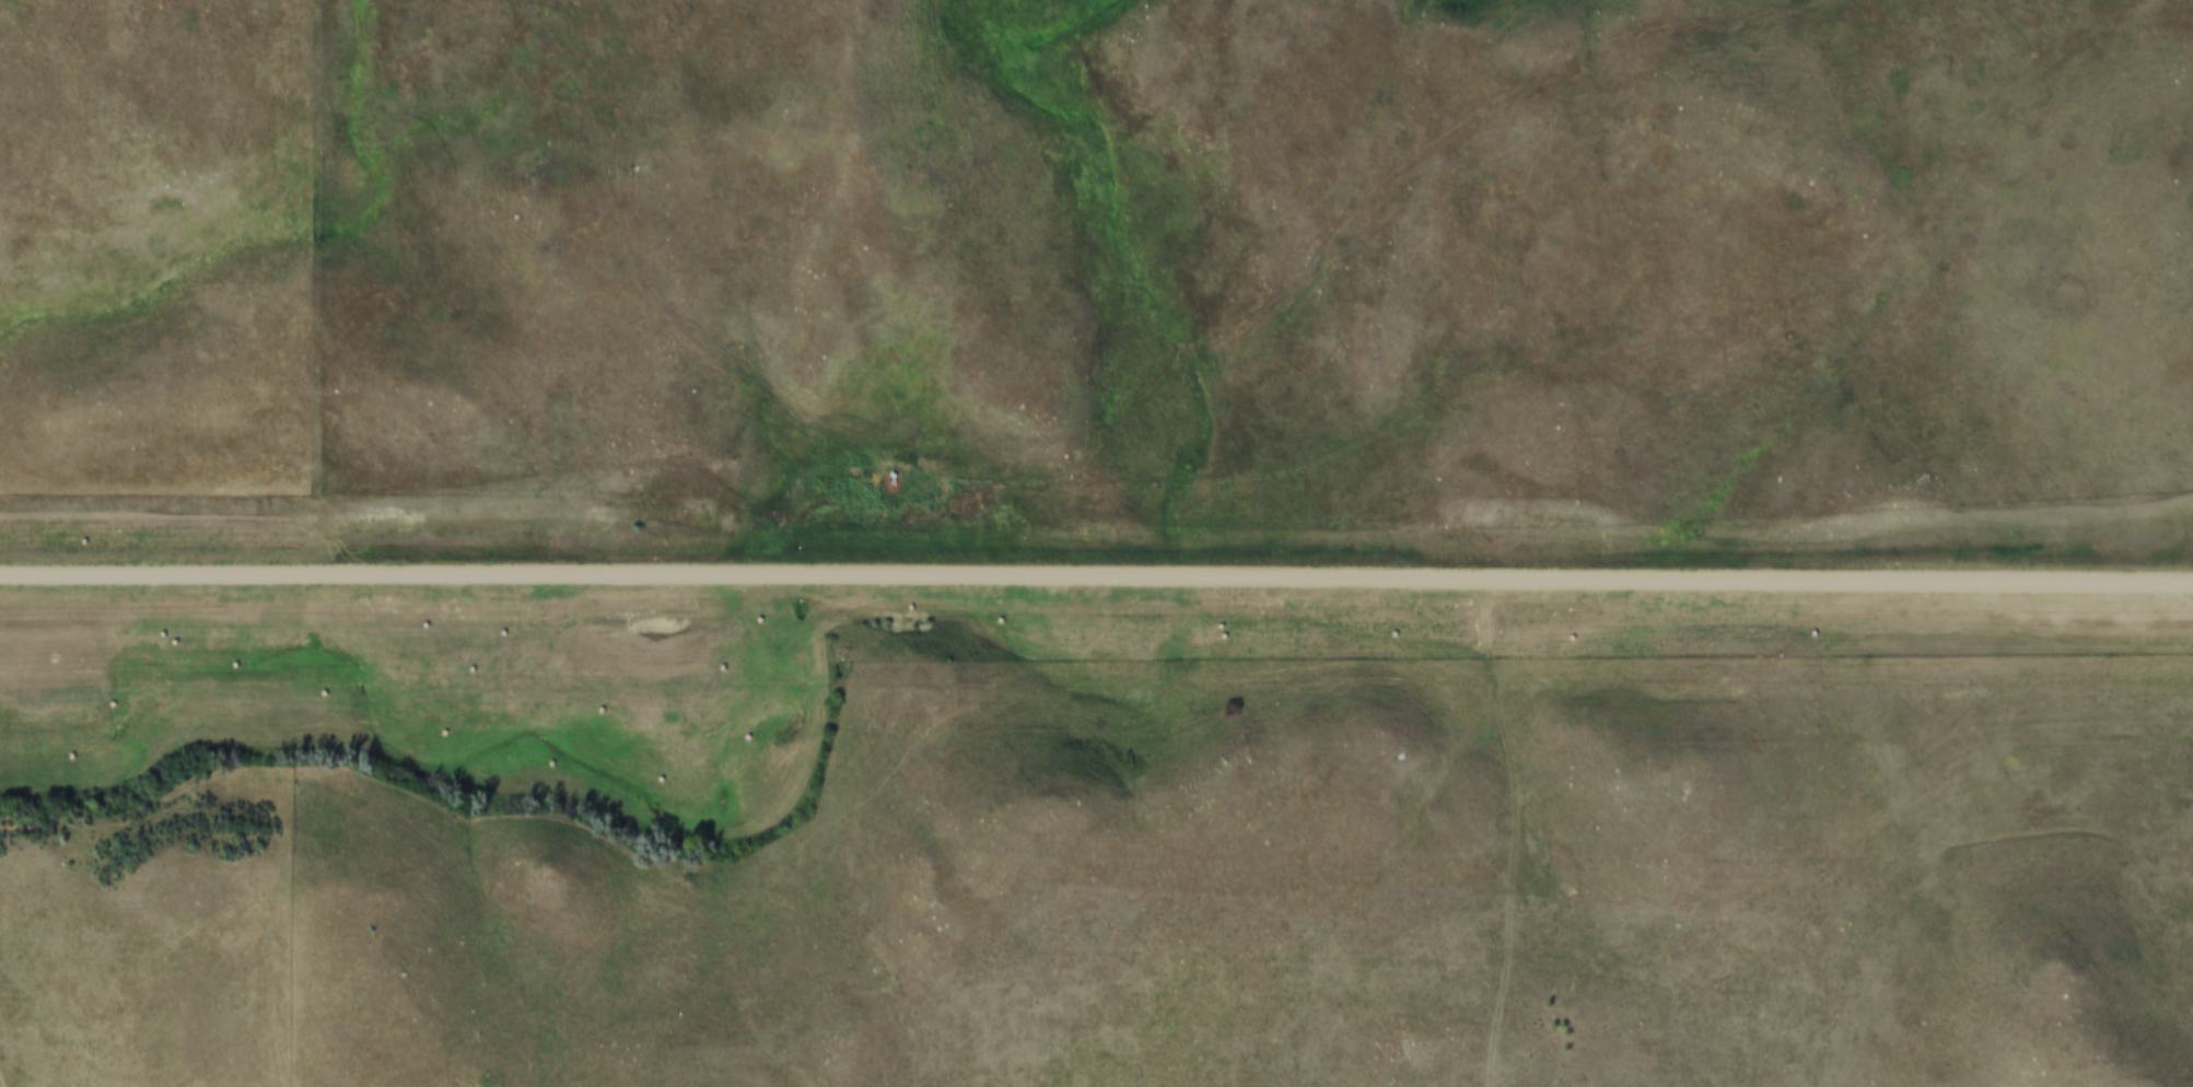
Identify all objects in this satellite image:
road: (1096, 577)
road: (1397, 863)

